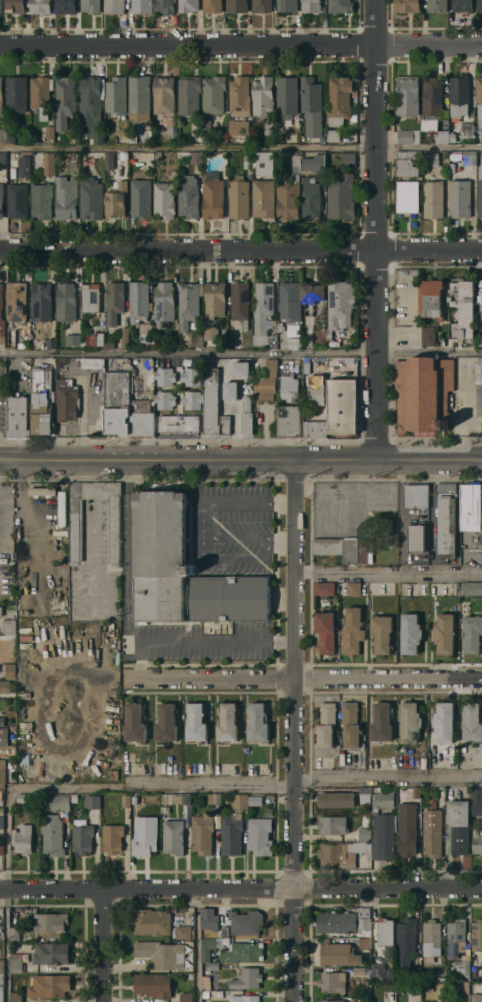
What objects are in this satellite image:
building: (189, 5)
building: (212, 5)
building: (287, 5)
building: (463, 5)
building: (1, 6)
building: (15, 6)
building: (41, 6)
building: (66, 6)
building: (91, 6)
building: (115, 6)
building: (142, 6)
building: (166, 6)
building: (238, 6)
building: (262, 6)
building: (311, 6)
building: (341, 6)
building: (407, 6)
building: (439, 6)
building: (479, 6)
road: (240, 42)
building: (17, 93)
building: (42, 94)
building: (214, 94)
building: (1, 95)
building: (66, 95)
building: (117, 95)
building: (164, 95)
building: (189, 95)
building: (408, 95)
building: (460, 95)
building: (240, 96)
building: (263, 96)
building: (287, 97)
building: (433, 97)
building: (140, 98)
building: (340, 99)
building: (480, 100)
building: (312, 106)
building: (92, 109)
building: (430, 124)
building: (207, 127)
building: (269, 128)
building: (467, 130)
building: (47, 132)
building: (239, 133)
building: (3, 135)
building: (11, 135)
building: (333, 135)
building: (409, 136)
building: (444, 137)
building: (133, 139)
road: (241, 147)
building: (158, 156)
building: (198, 156)
building: (3, 158)
building: (431, 158)
building: (470, 158)
building: (347, 159)
building: (110, 161)
building: (248, 161)
building: (265, 162)
building: (49, 163)
building: (408, 163)
building: (314, 164)
building: (25, 166)
building: (452, 168)
building: (175, 175)
building: (290, 191)
building: (480, 192)
building: (66, 197)
building: (189, 197)
building: (239, 197)
building: (341, 197)
building: (407, 197)
building: (91, 198)
building: (141, 198)
building: (213, 198)
building: (264, 198)
building: (311, 198)
building: (460, 198)
building: (116, 199)
building: (434, 199)
building: (2, 200)
building: (42, 200)
building: (165, 200)
building: (18, 201)
road: (374, 229)
road: (428, 249)
road: (187, 250)
building: (313, 293)
building: (91, 297)
building: (430, 298)
building: (215, 300)
building: (17, 301)
building: (42, 301)
building: (115, 301)
building: (140, 301)
building: (290, 301)
building: (66, 302)
building: (240, 302)
building: (479, 302)
building: (164, 303)
building: (341, 303)
building: (190, 305)
building: (463, 309)
building: (264, 313)
building: (2, 319)
building: (281, 326)
building: (295, 330)
building: (210, 331)
building: (330, 333)
building: (428, 336)
building: (125, 337)
building: (73, 339)
building: (144, 339)
building: (198, 339)
building: (94, 340)
building: (480, 340)
building: (52, 343)
building: (295, 343)
building: (110, 346)
road: (240, 352)
building: (93, 363)
building: (241, 369)
building: (478, 372)
building: (165, 376)
building: (192, 377)
building: (267, 382)
building: (289, 387)
building: (231, 390)
building: (316, 391)
building: (424, 393)
building: (67, 399)
building: (194, 399)
building: (165, 400)
road: (474, 400)
building: (42, 402)
building: (118, 402)
building: (214, 405)
road: (467, 405)
building: (343, 406)
building: (247, 415)
building: (19, 417)
building: (142, 419)
building: (290, 421)
building: (179, 424)
building: (315, 424)
road: (241, 459)
building: (28, 495)
building: (416, 495)
road: (206, 506)
building: (471, 506)
road: (402, 508)
building: (447, 518)
building: (76, 530)
road: (281, 536)
building: (416, 536)
building: (343, 548)
building: (161, 556)
road: (236, 559)
road: (388, 573)
building: (325, 588)
building: (354, 588)
building: (472, 588)
building: (229, 598)
building: (1, 611)
building: (9, 626)
road: (130, 629)
building: (353, 631)
building: (326, 632)
building: (382, 633)
building: (411, 633)
building: (445, 633)
building: (473, 633)
road: (139, 660)
building: (10, 670)
road: (306, 678)
building: (5, 686)
building: (2, 720)
building: (473, 721)
building: (167, 722)
building: (196, 722)
building: (228, 722)
building: (258, 722)
building: (382, 722)
building: (411, 722)
building: (135, 723)
building: (444, 723)
building: (327, 724)
building: (351, 724)
road: (292, 730)
building: (3, 748)
building: (2, 772)
road: (245, 786)
building: (416, 792)
building: (365, 794)
building: (23, 798)
building: (74, 798)
building: (180, 798)
building: (215, 798)
building: (134, 799)
building: (336, 799)
building: (476, 799)
building: (126, 800)
building: (256, 800)
building: (92, 801)
building: (240, 801)
building: (57, 802)
building: (166, 809)
building: (2, 811)
building: (366, 821)
building: (2, 822)
building: (385, 823)
building: (333, 824)
building: (459, 825)
building: (407, 829)
building: (202, 833)
building: (232, 833)
building: (432, 833)
building: (53, 834)
building: (365, 834)
building: (145, 835)
building: (260, 836)
building: (174, 837)
building: (23, 838)
building: (83, 838)
building: (113, 838)
building: (477, 842)
building: (2, 848)
building: (341, 852)
road: (240, 887)
road: (5, 895)
building: (210, 918)
building: (51, 921)
building: (152, 921)
building: (345, 921)
building: (246, 922)
building: (225, 931)
building: (184, 932)
building: (432, 932)
building: (15, 933)
building: (386, 935)
building: (407, 935)
building: (477, 935)
building: (455, 936)
building: (365, 943)
road: (198, 944)
road: (102, 945)
building: (207, 948)
building: (244, 951)
building: (51, 953)
building: (339, 953)
building: (162, 954)
building: (17, 962)
building: (2, 965)
building: (414, 965)
building: (481, 965)
building: (213, 966)
building: (466, 966)
building: (361, 970)
building: (379, 971)
building: (390, 973)
building: (247, 978)
building: (206, 982)
building: (333, 982)
building: (153, 984)
building: (50, 985)
building: (2, 987)
building: (463, 987)
building: (477, 993)
building: (205, 994)
building: (17, 997)
building: (186, 997)
building: (244, 998)
building: (333, 1000)
building: (440, 1001)

